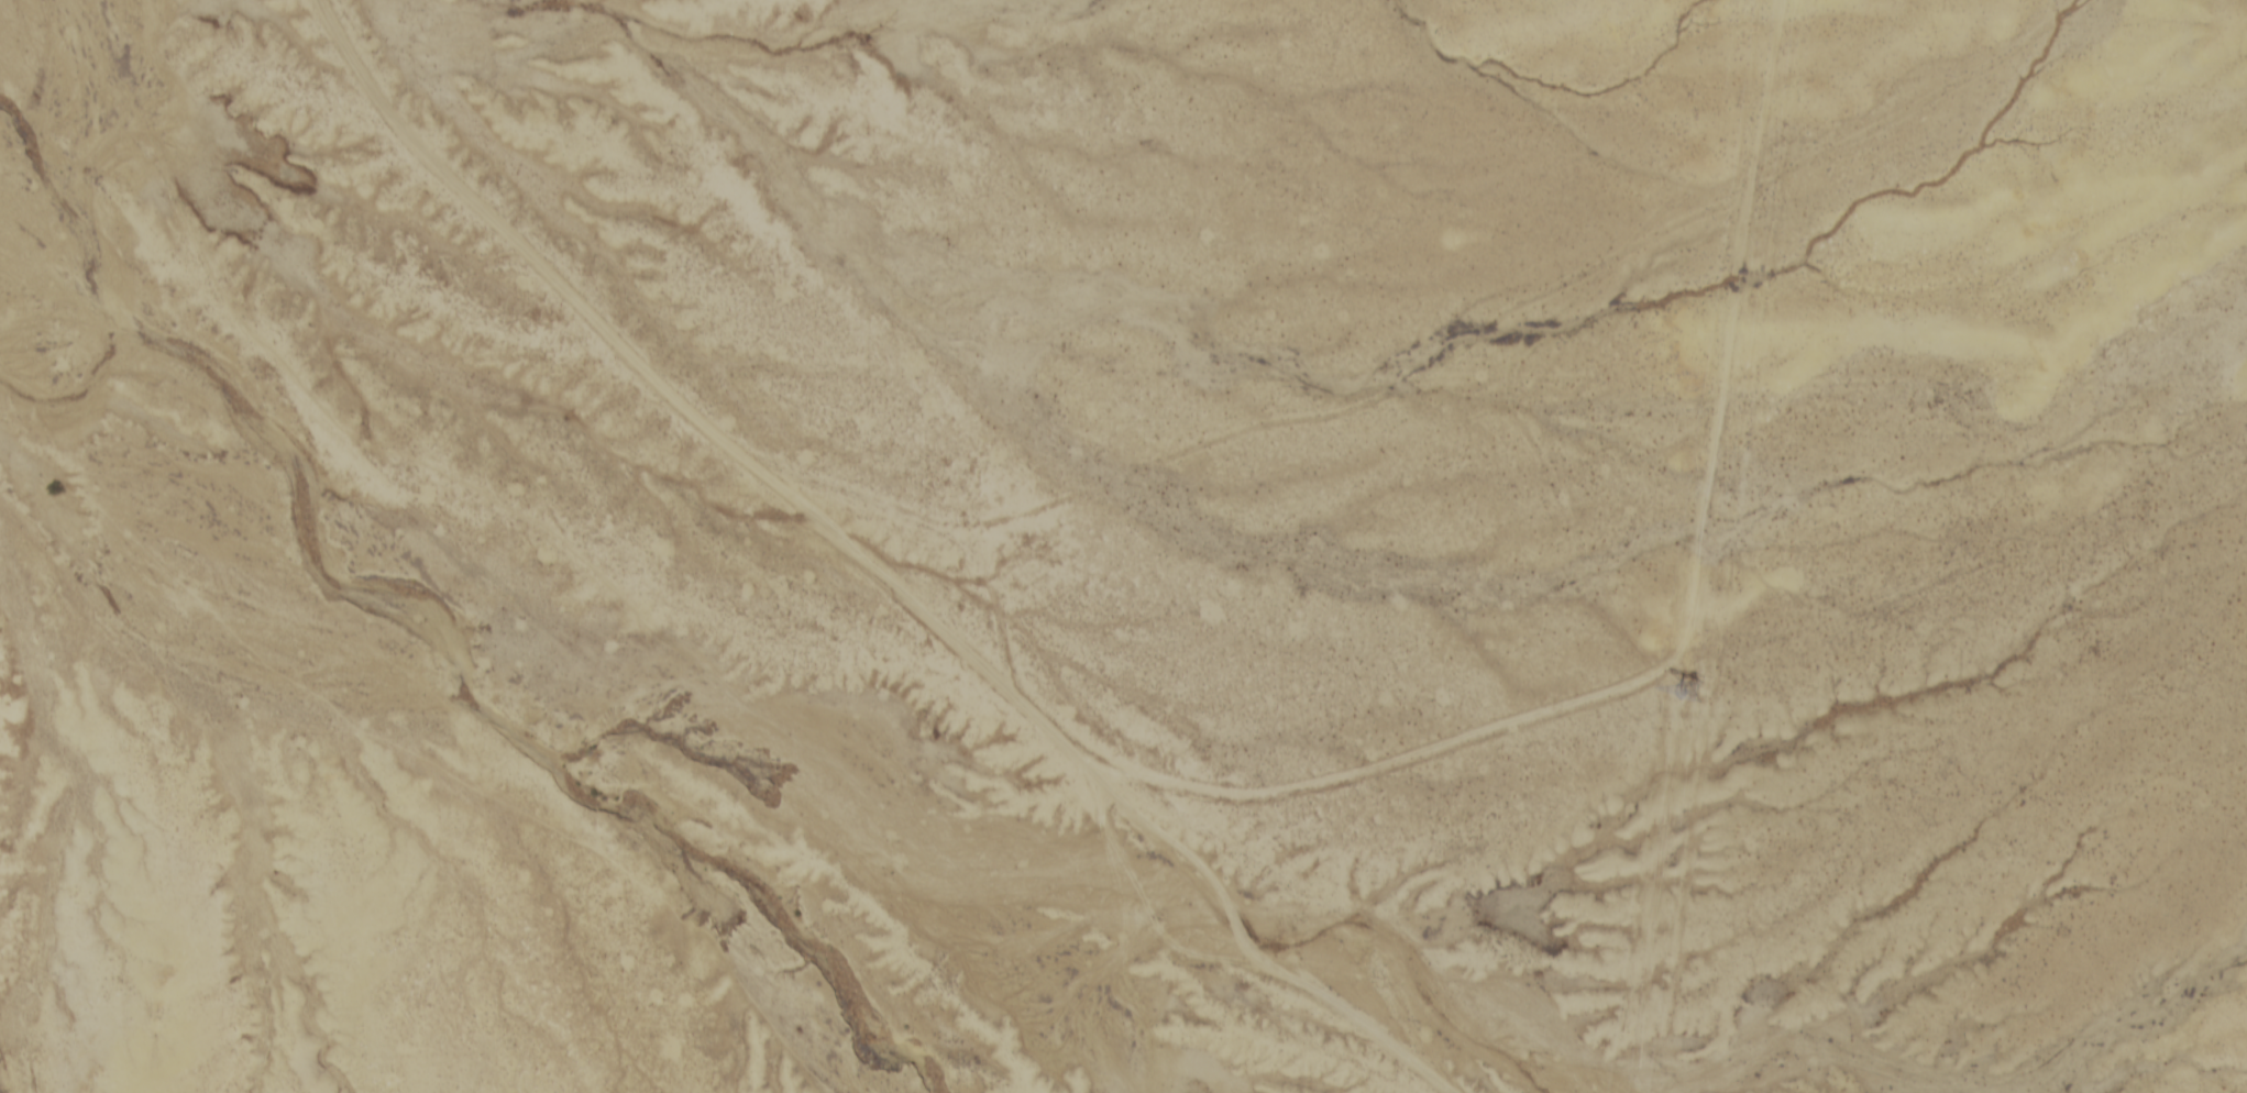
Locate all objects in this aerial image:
road: (870, 560)
river: (381, 601)
power tower: (1694, 695)

